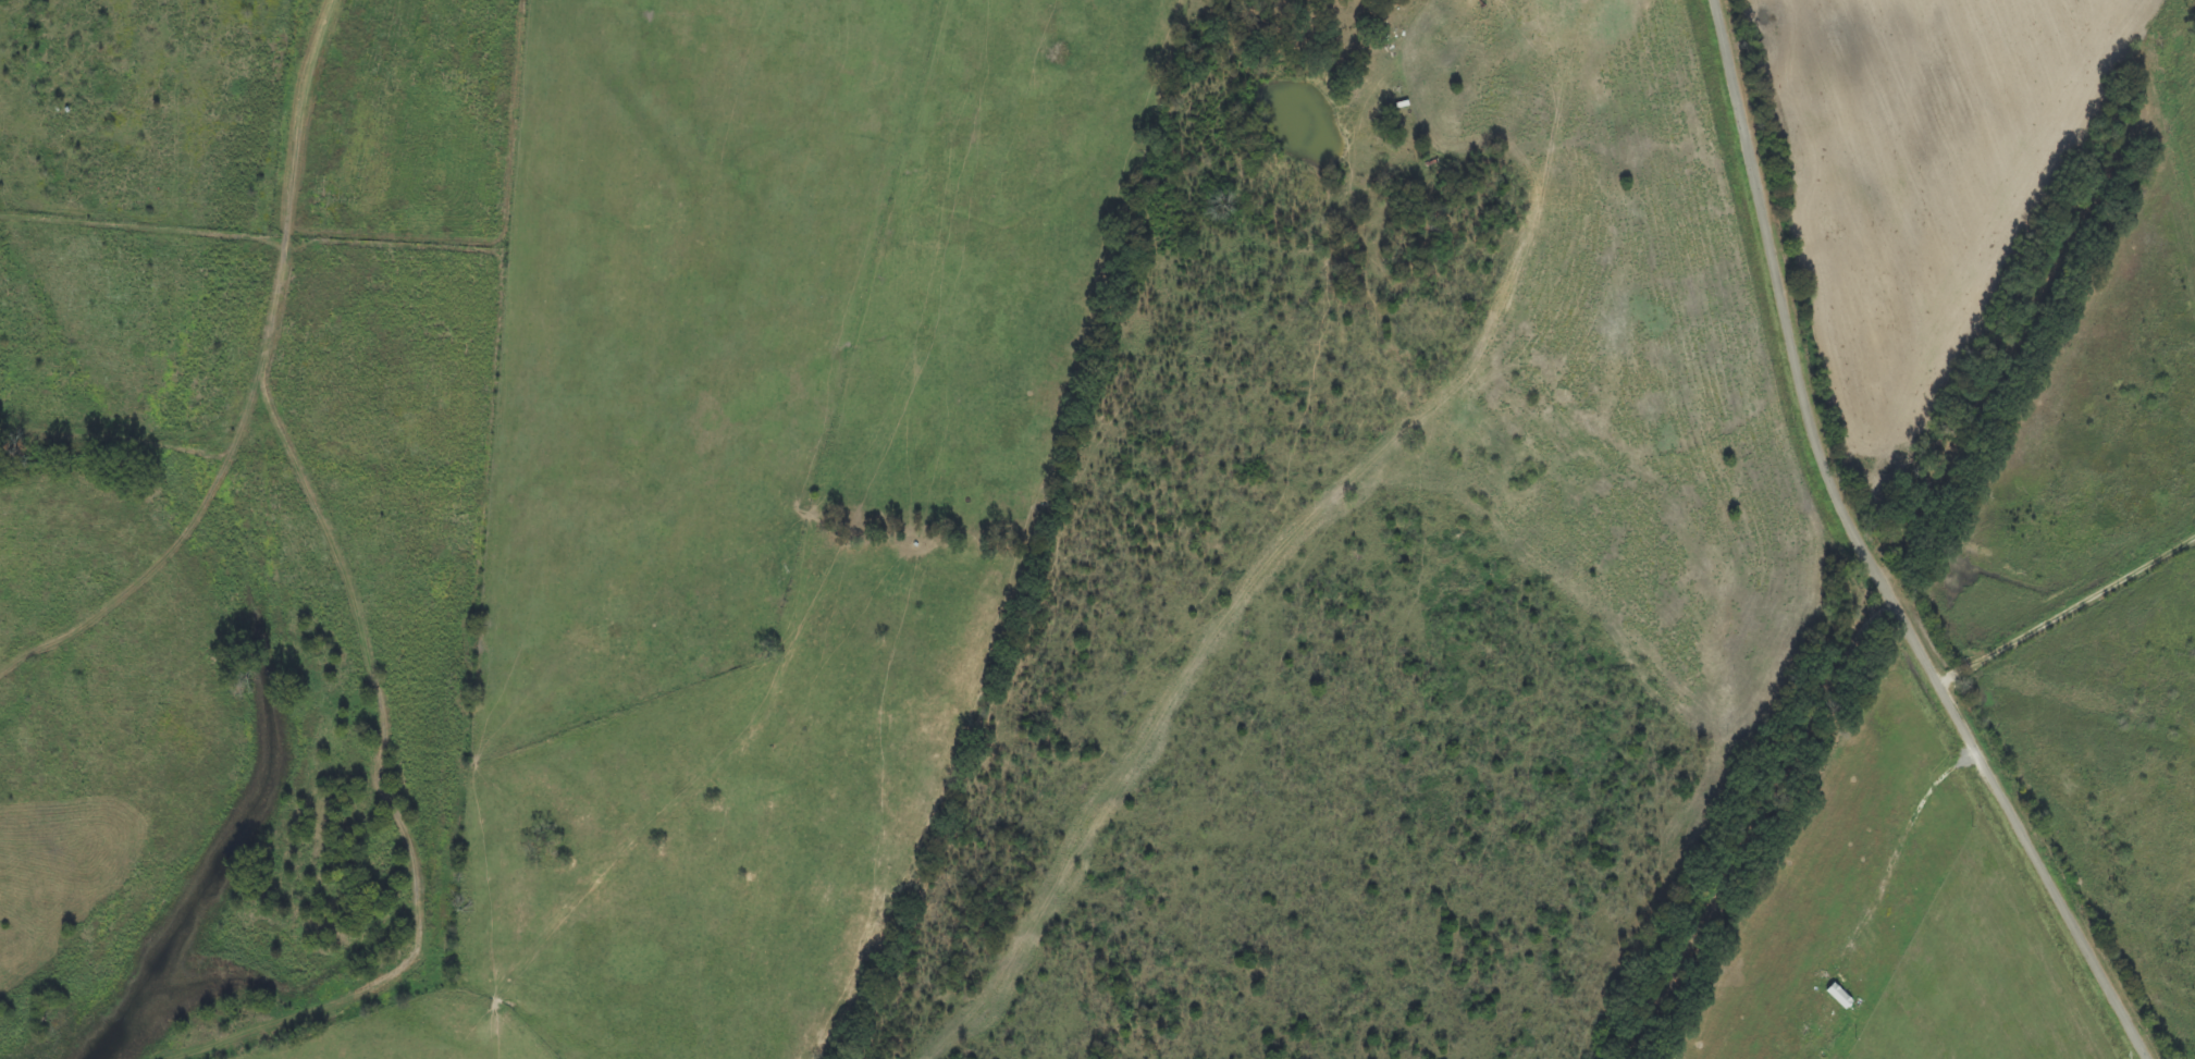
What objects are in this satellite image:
railway: (1911, 537)
road: (1874, 555)
building: (1839, 997)

